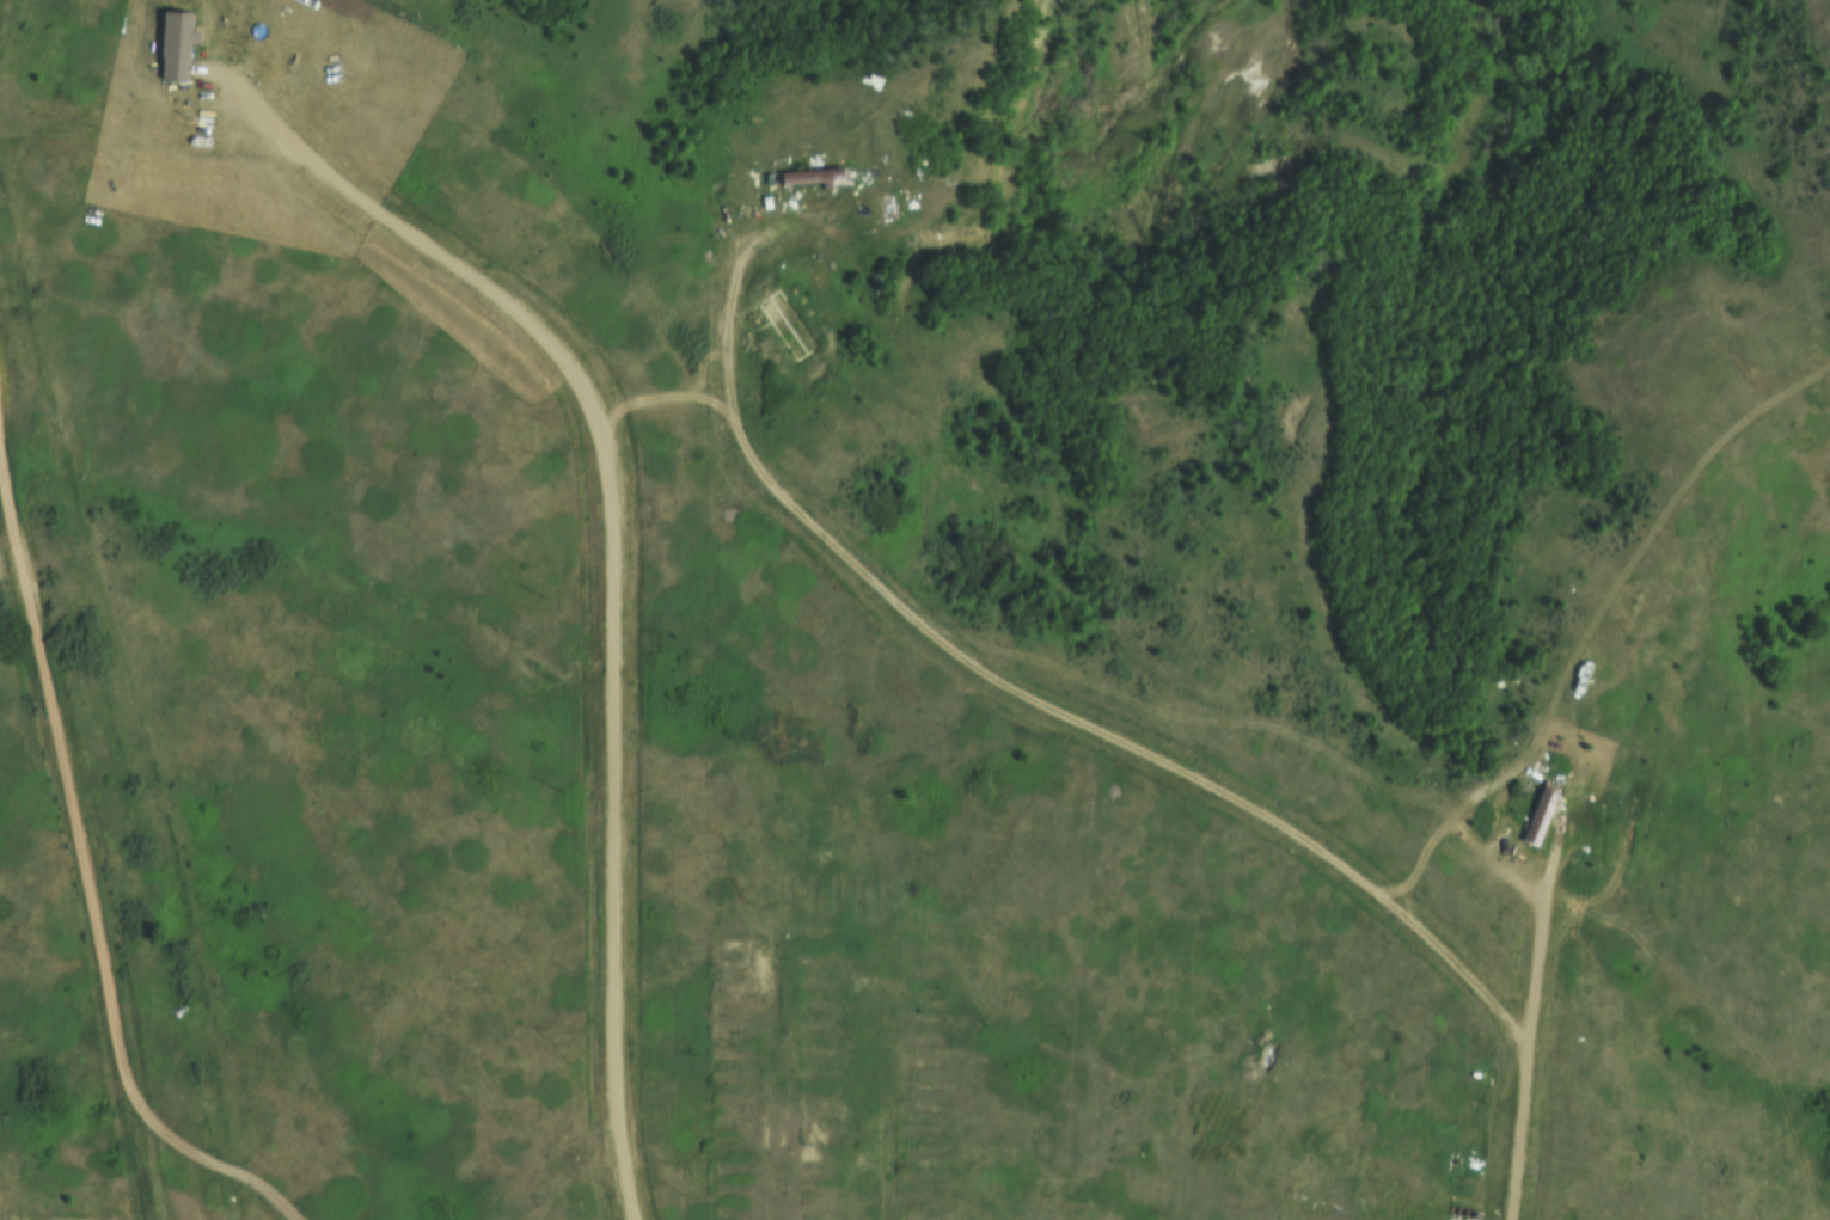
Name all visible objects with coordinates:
building: (171, 43)
building: (803, 177)
road: (1590, 621)
road: (1005, 679)
building: (1534, 816)
road: (72, 822)
road: (1534, 936)
road: (1514, 1133)

